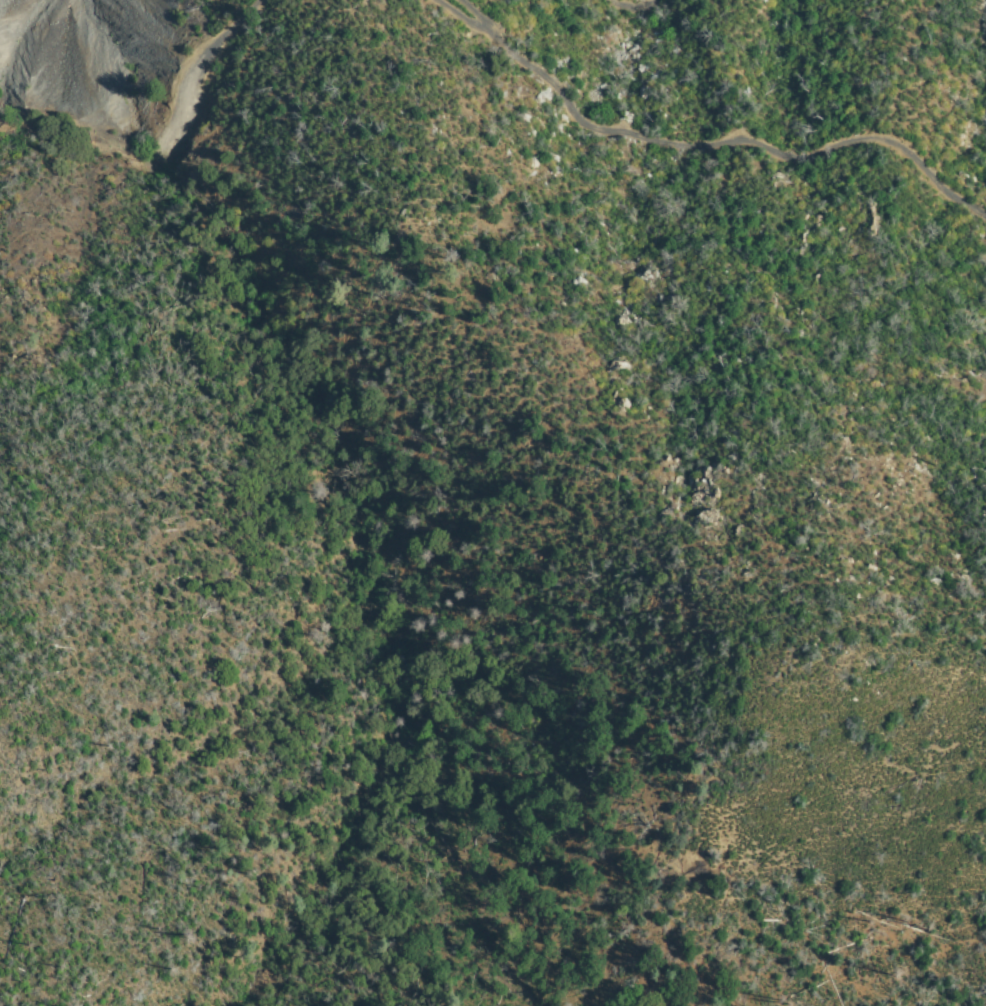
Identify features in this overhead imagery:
road: (627, 5)
road: (465, 19)
road: (192, 76)
road: (715, 142)

